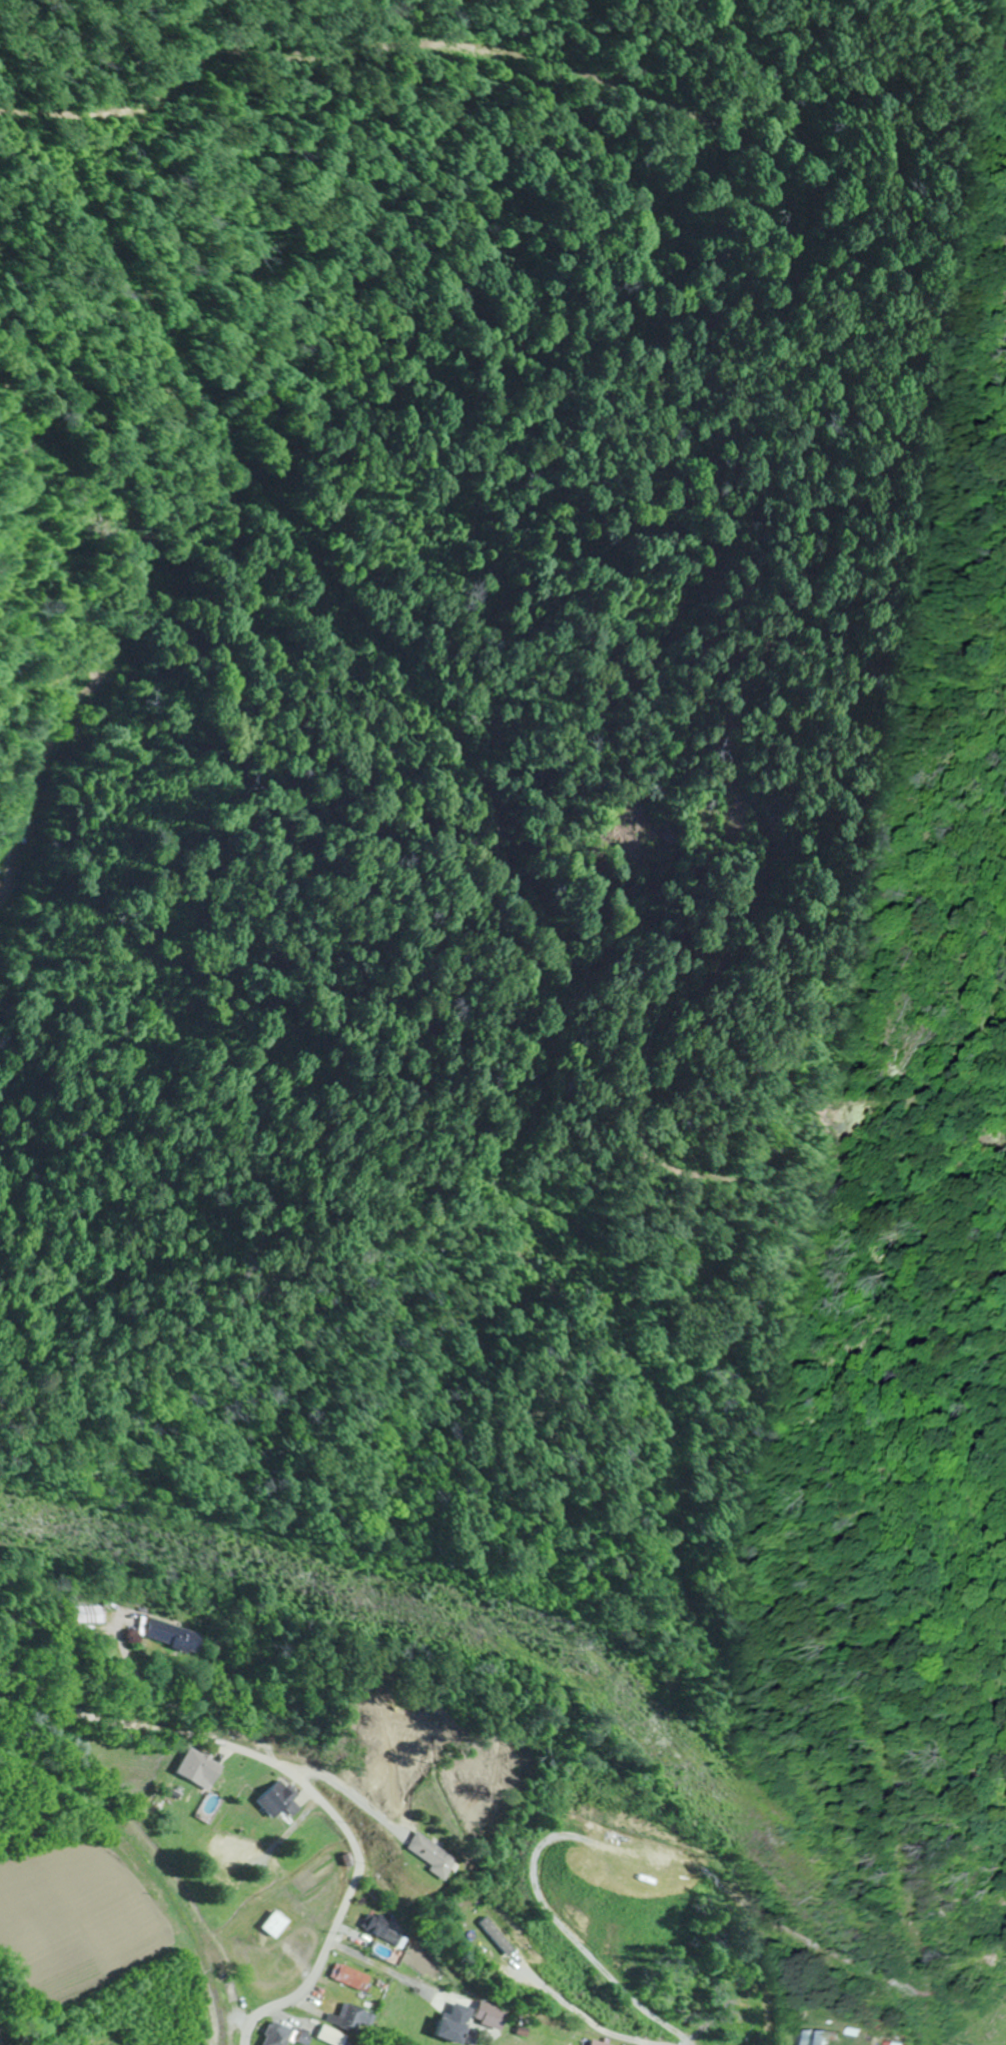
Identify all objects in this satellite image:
road: (3, 849)
building: (93, 1615)
building: (172, 1635)
building: (202, 1769)
road: (301, 1783)
building: (280, 1799)
building: (236, 1846)
building: (431, 1855)
railway: (154, 1865)
building: (277, 1925)
building: (384, 1929)
building: (483, 1934)
road: (391, 1944)
building: (353, 1978)
park: (745, 2011)
road: (584, 2015)
building: (349, 2018)
building: (458, 2022)
building: (279, 2035)
building: (333, 2036)
building: (304, 2037)
building: (813, 2037)
building: (601, 2042)
building: (890, 2043)

